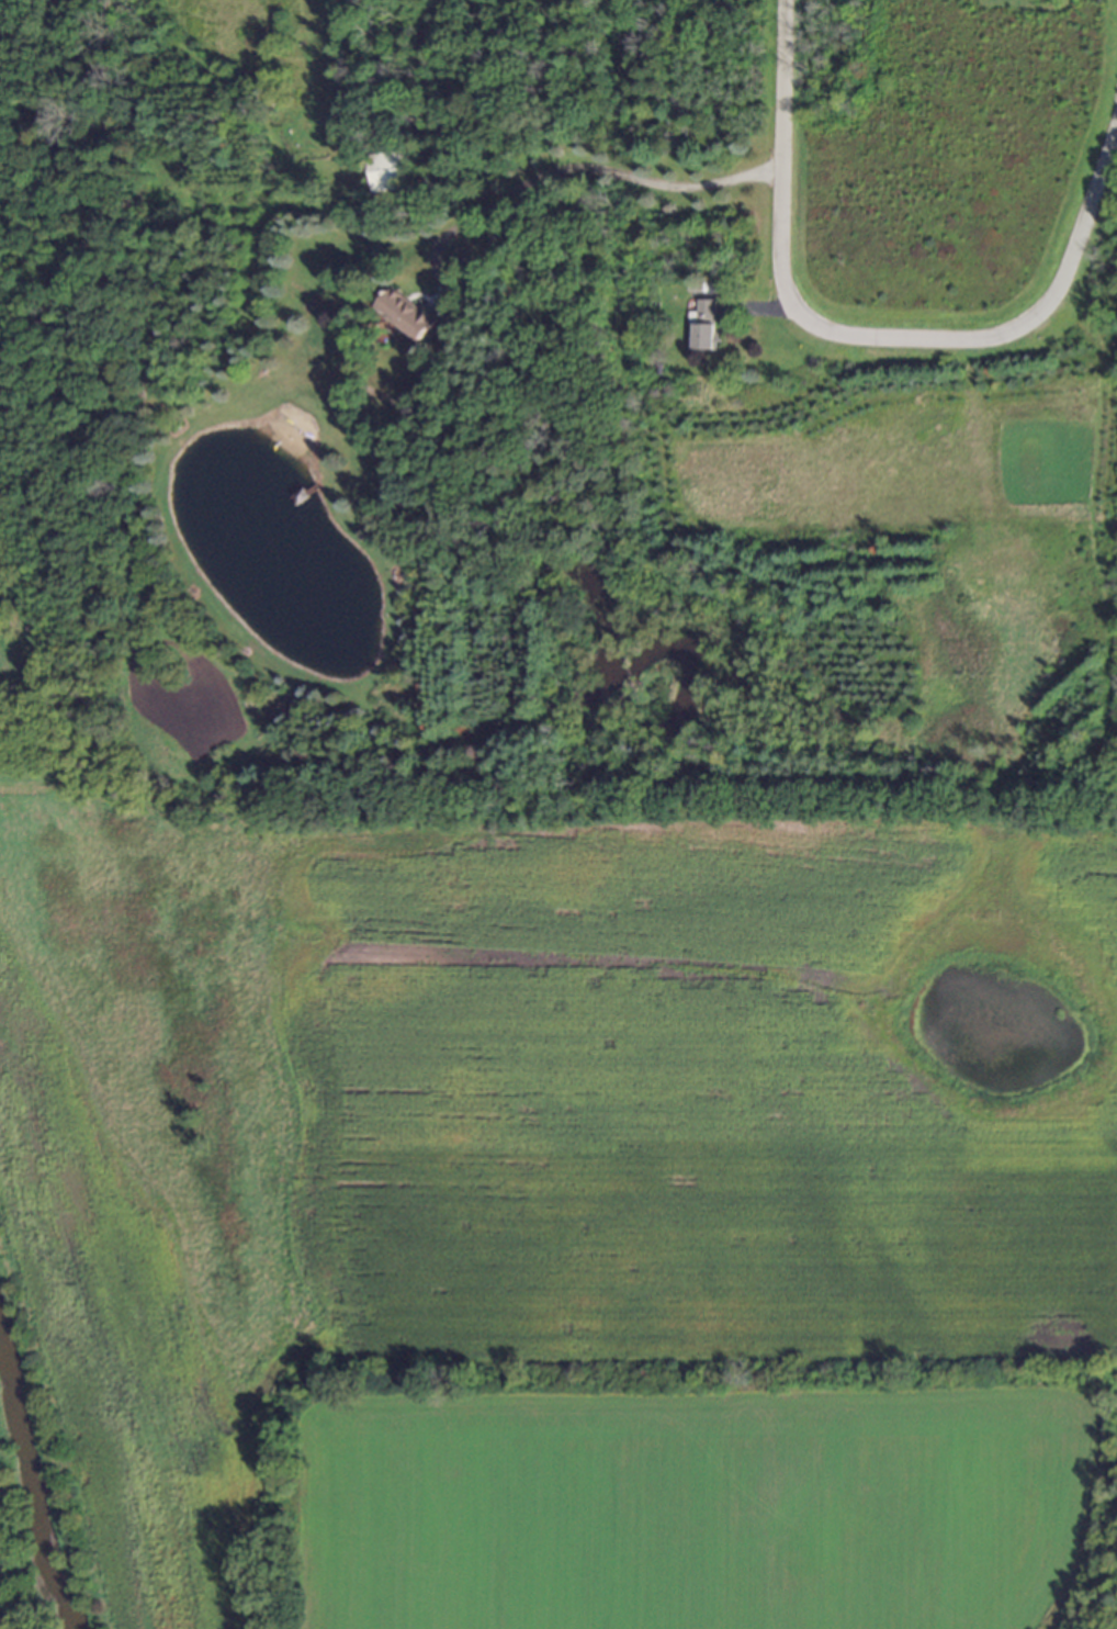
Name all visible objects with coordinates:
building: (392, 171)
road: (780, 171)
road: (518, 188)
building: (408, 314)
building: (707, 326)
road: (1013, 346)
crop: (579, 1222)
crop: (2, 1620)

